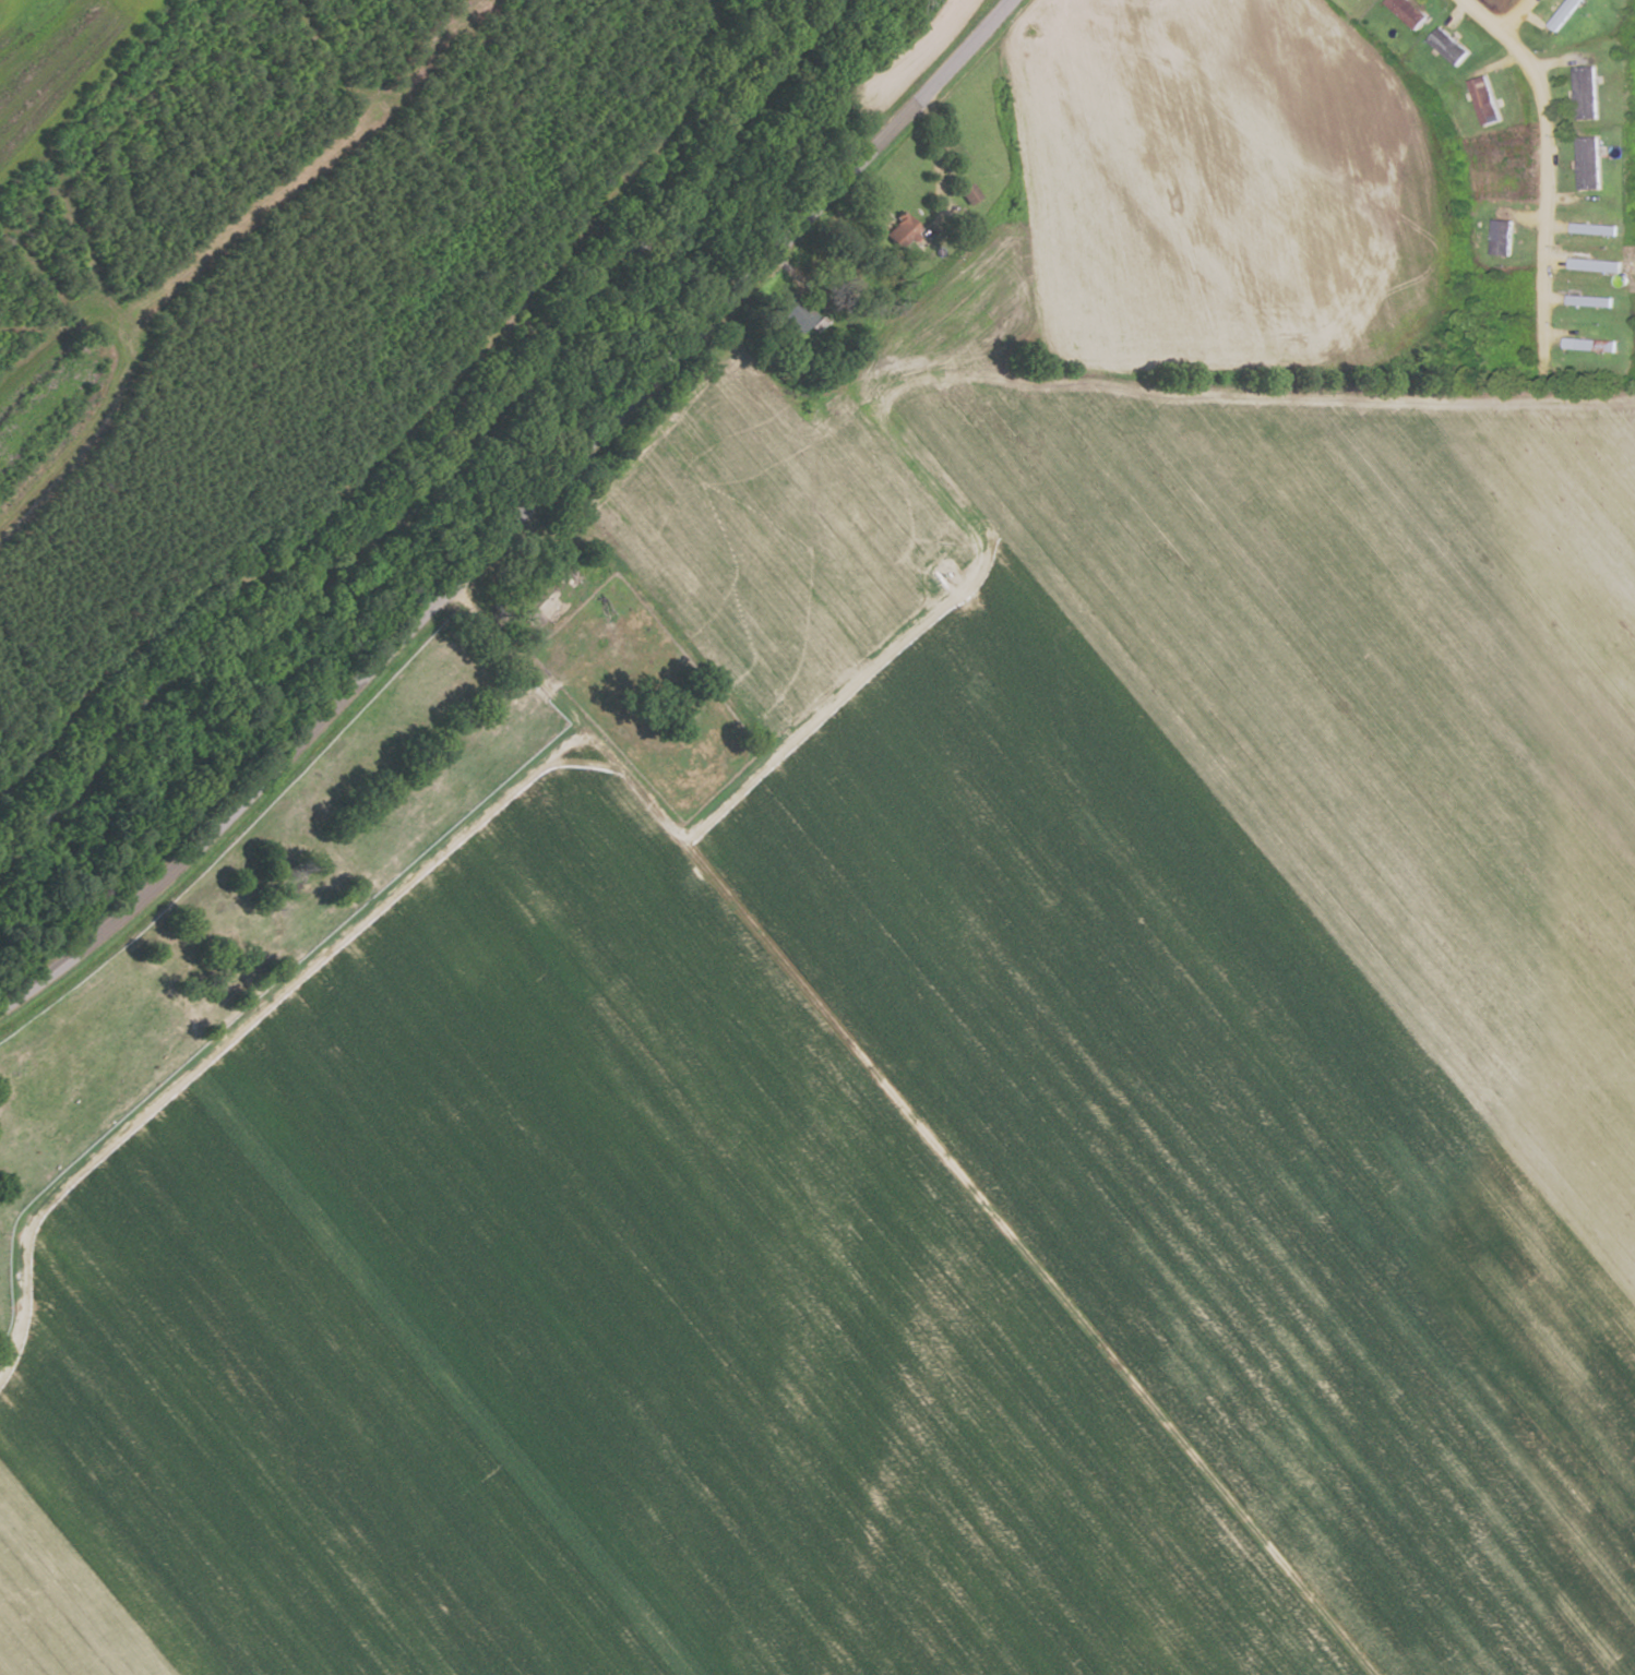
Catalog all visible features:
building: (1407, 11)
building: (1563, 13)
road: (1513, 19)
building: (1447, 45)
building: (1584, 92)
building: (1483, 99)
building: (1587, 163)
road: (1542, 166)
building: (969, 192)
building: (1592, 228)
building: (899, 230)
building: (1501, 237)
building: (1594, 264)
building: (1589, 300)
building: (799, 315)
building: (1589, 344)
road: (516, 521)
road: (249, 1016)
road: (915, 1126)
road: (1284, 1290)
road: (397, 1318)

